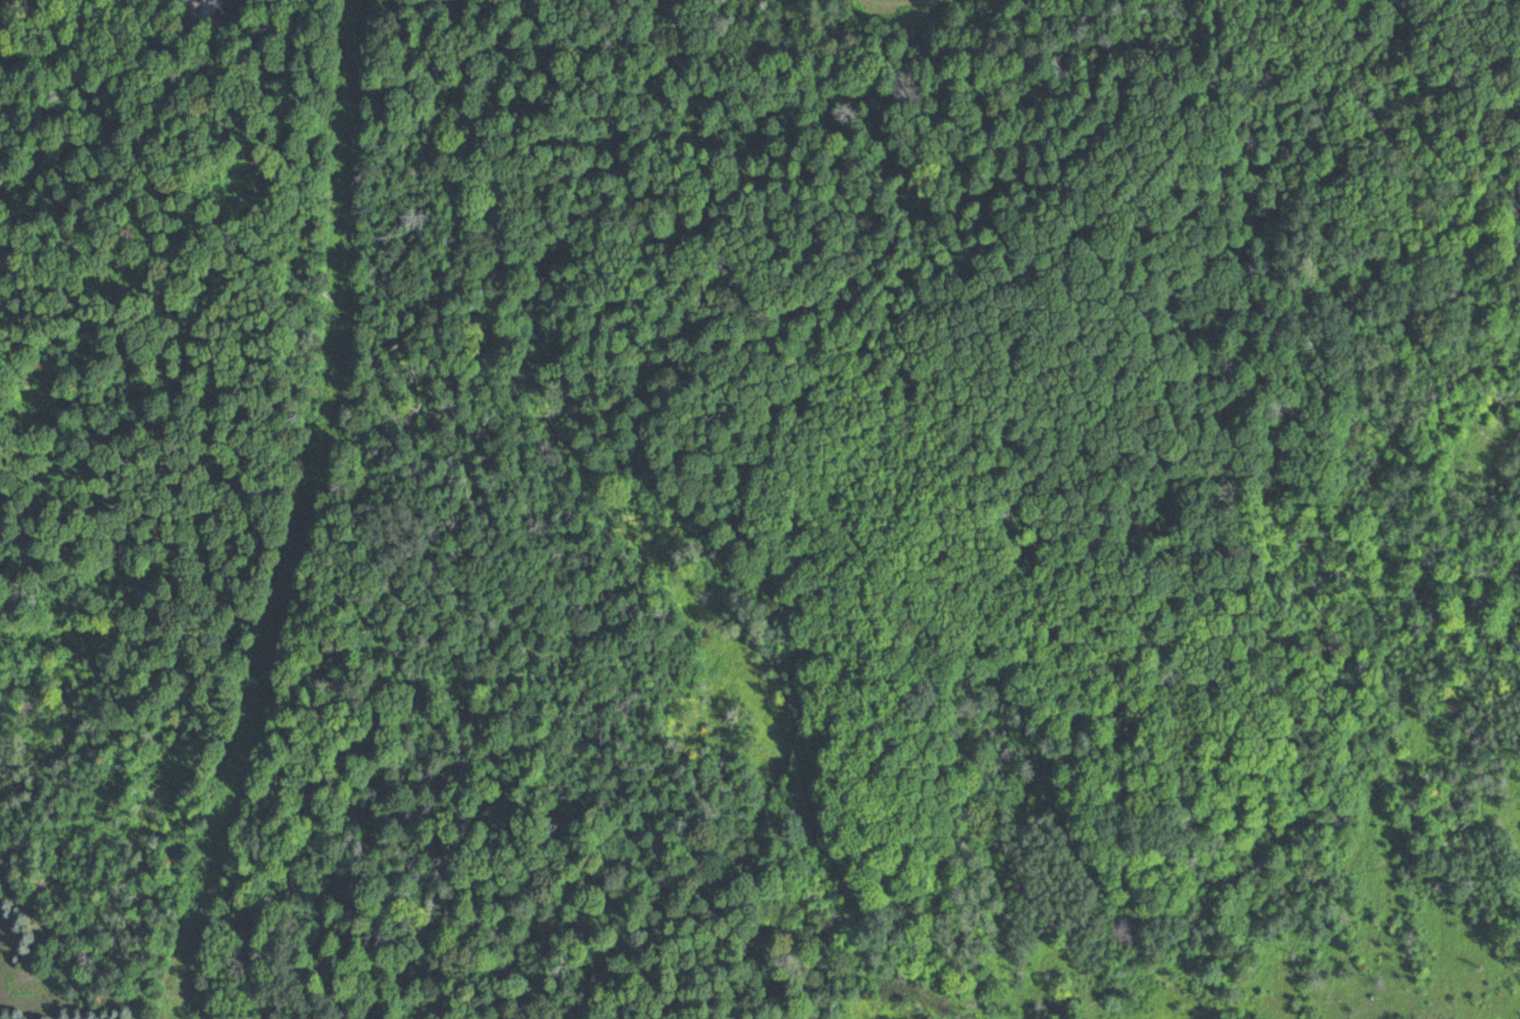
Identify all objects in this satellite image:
building: (226, 1)

